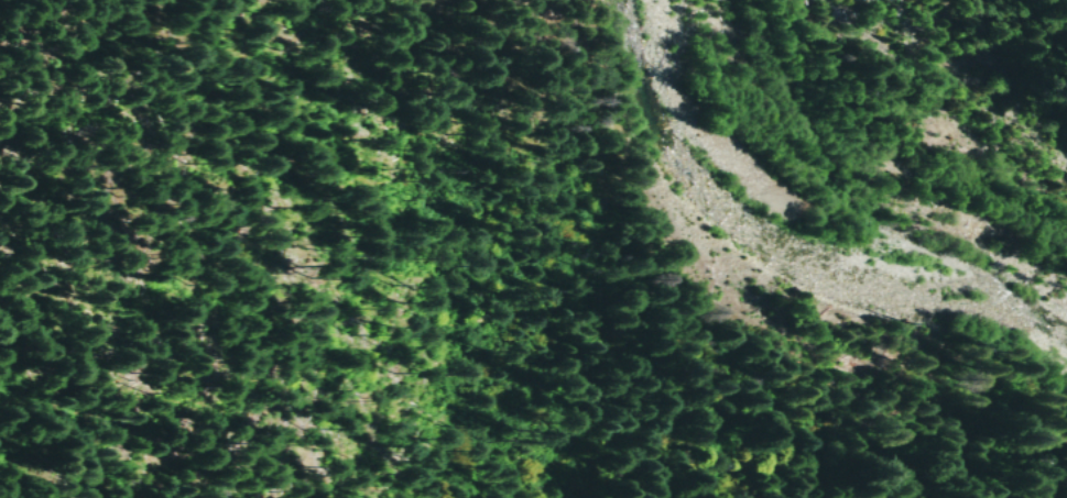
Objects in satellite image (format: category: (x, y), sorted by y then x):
river: (781, 243)

